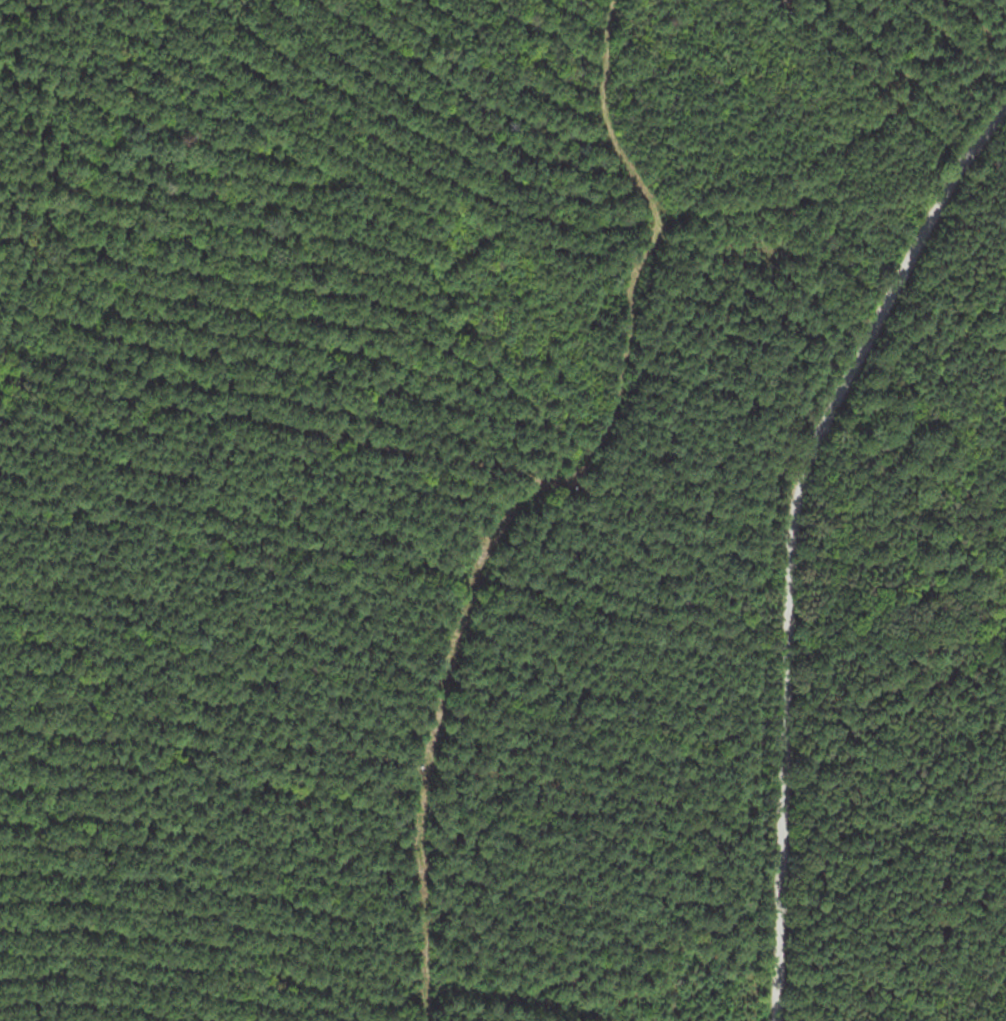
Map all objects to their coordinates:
road: (791, 536)

